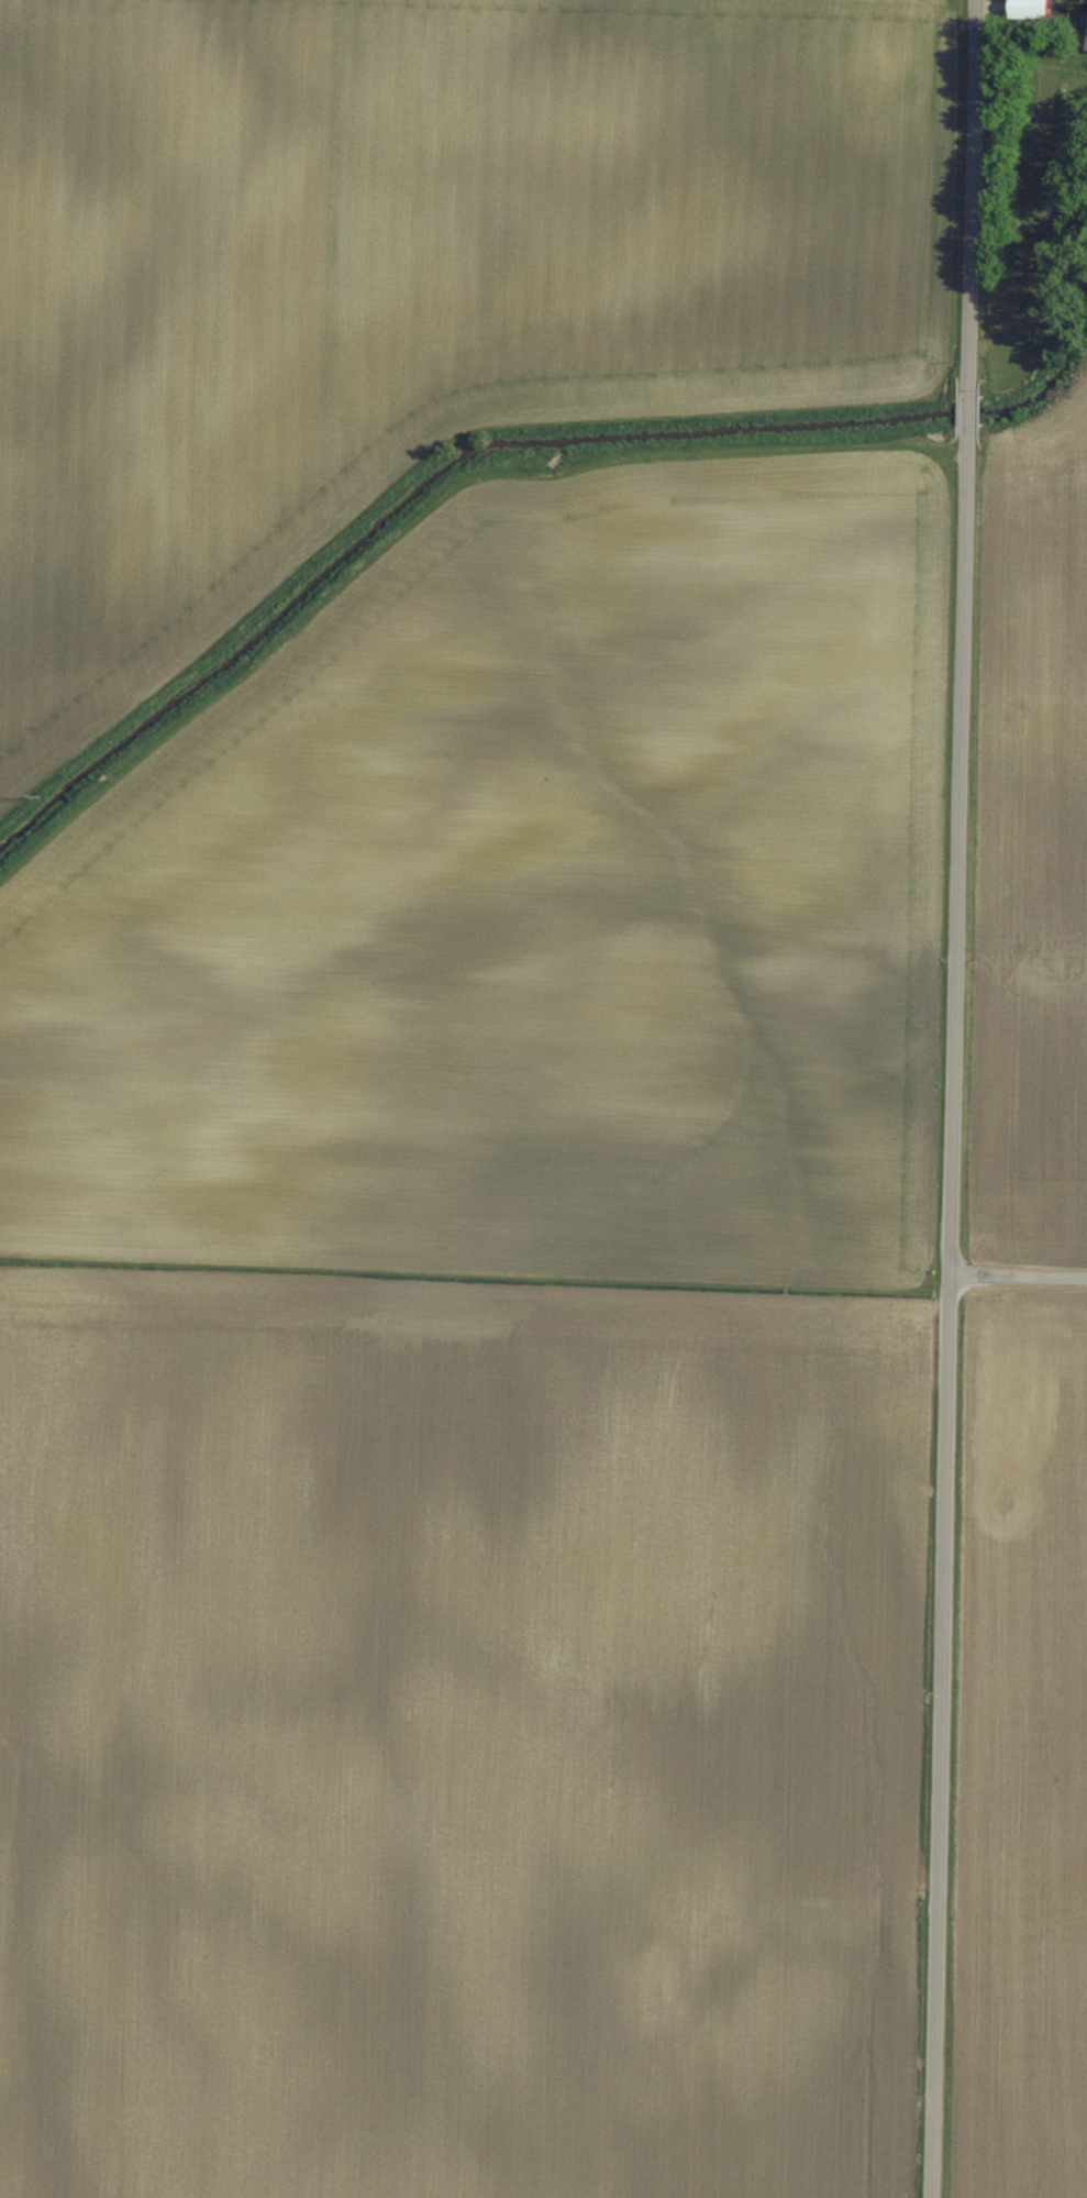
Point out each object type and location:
road: (954, 1098)
road: (1018, 1274)

